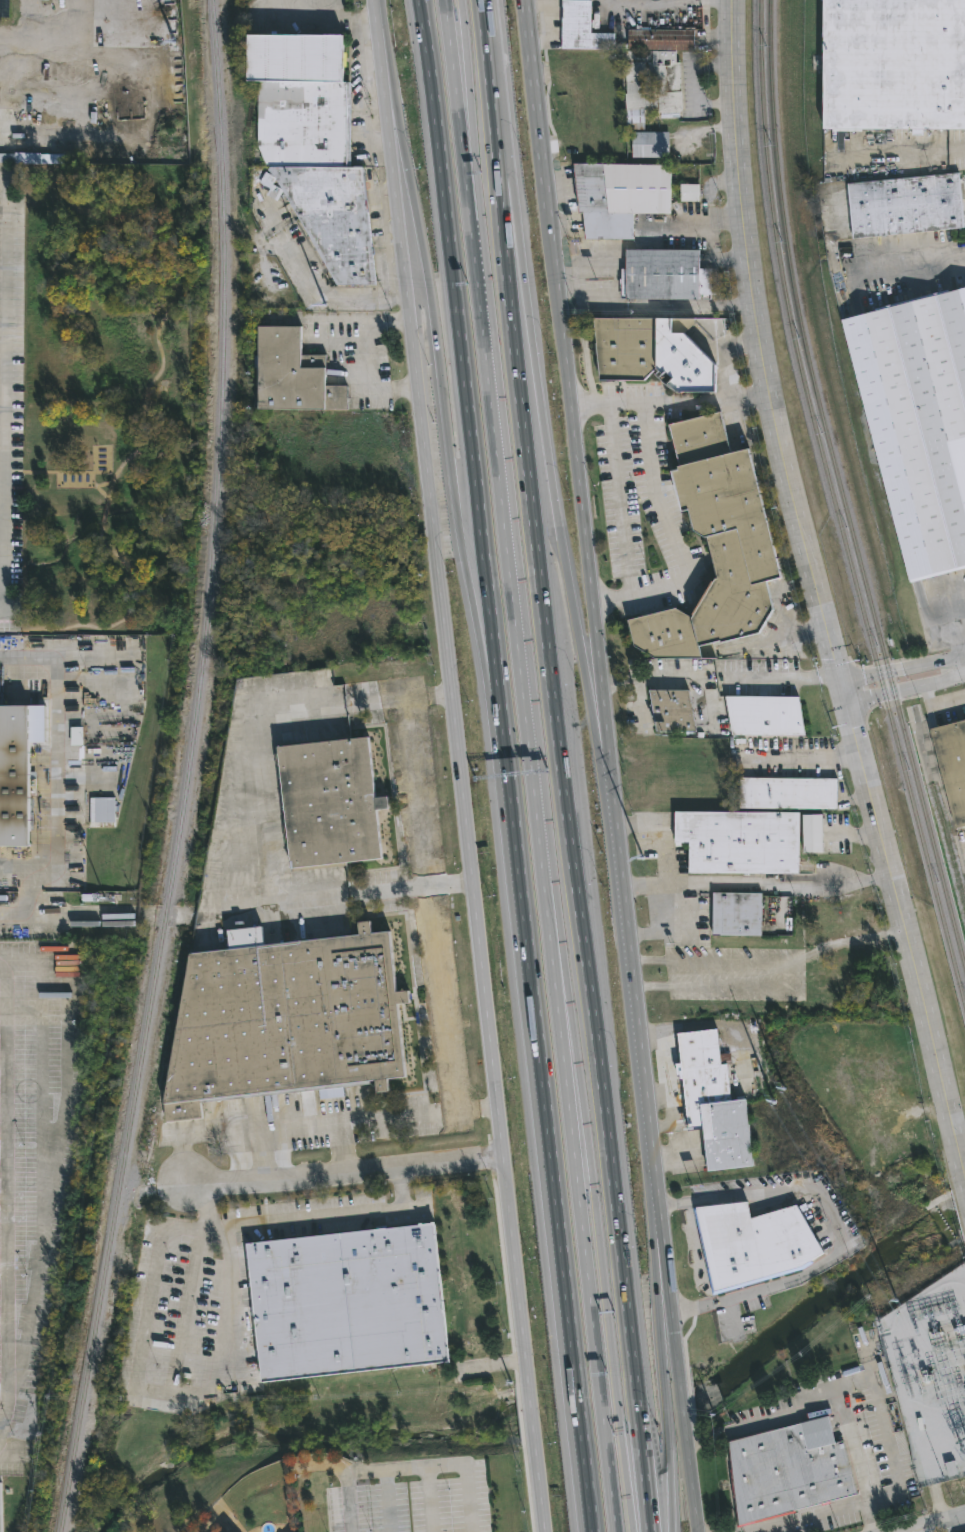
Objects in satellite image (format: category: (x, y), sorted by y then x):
road: (316, 19)
building: (581, 28)
building: (660, 39)
road: (465, 65)
building: (894, 65)
road: (95, 76)
building: (652, 87)
building: (298, 99)
road: (457, 111)
building: (649, 144)
road: (960, 147)
building: (6, 160)
road: (470, 176)
building: (690, 194)
building: (618, 195)
building: (904, 203)
building: (331, 219)
road: (637, 226)
road: (716, 260)
road: (453, 269)
road: (912, 269)
building: (664, 275)
road: (312, 290)
road: (668, 304)
road: (318, 320)
road: (582, 331)
building: (650, 352)
road: (723, 356)
road: (364, 357)
road: (439, 370)
building: (290, 376)
road: (3, 383)
road: (669, 404)
building: (918, 421)
power tower: (391, 422)
road: (547, 464)
railway: (839, 486)
road: (619, 500)
railway: (834, 507)
road: (675, 542)
building: (715, 545)
road: (511, 591)
road: (819, 596)
road: (788, 636)
road: (789, 678)
road: (904, 679)
traffic signals: (843, 693)
road: (930, 708)
building: (672, 710)
building: (765, 715)
road: (808, 761)
building: (952, 765)
road: (460, 766)
road: (558, 766)
road: (609, 766)
railway: (187, 770)
road: (52, 777)
building: (14, 778)
building: (787, 793)
building: (332, 806)
road: (632, 822)
building: (812, 832)
road: (240, 834)
road: (853, 835)
building: (738, 841)
road: (658, 852)
power tower: (647, 869)
road: (643, 887)
road: (776, 887)
building: (735, 915)
road: (665, 929)
road: (789, 959)
road: (673, 974)
road: (435, 998)
building: (289, 1022)
road: (538, 1035)
power tower: (771, 1087)
building: (712, 1103)
road: (366, 1121)
road: (348, 1176)
road: (5, 1197)
road: (836, 1231)
building: (752, 1243)
road: (597, 1245)
road: (583, 1246)
power tower: (890, 1294)
building: (349, 1304)
road: (220, 1367)
power substation: (930, 1377)
road: (870, 1379)
road: (664, 1415)
road: (763, 1421)
road: (409, 1467)
building: (787, 1471)
road: (389, 1501)
road: (800, 1516)
road: (867, 1516)
building: (488, 1523)
road: (935, 1524)

